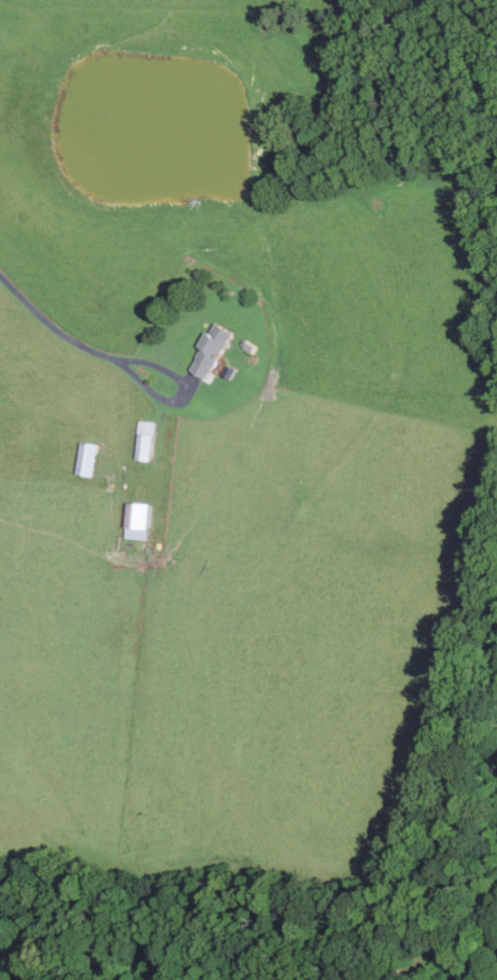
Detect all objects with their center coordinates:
road: (51, 326)
building: (207, 350)
road: (187, 393)
building: (142, 440)
building: (84, 458)
building: (134, 520)

